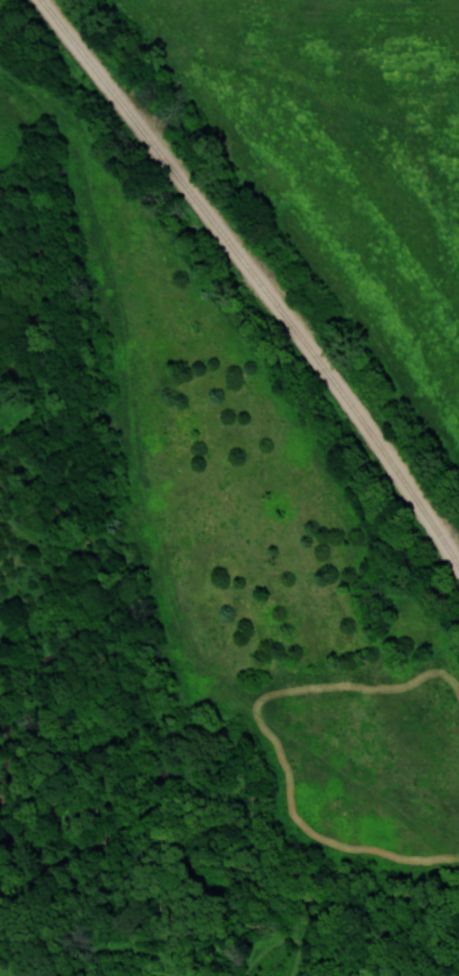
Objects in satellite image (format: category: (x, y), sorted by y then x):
park: (329, 165)
park: (21, 258)
river: (39, 266)
railway: (257, 277)
park: (34, 525)
park: (216, 597)

